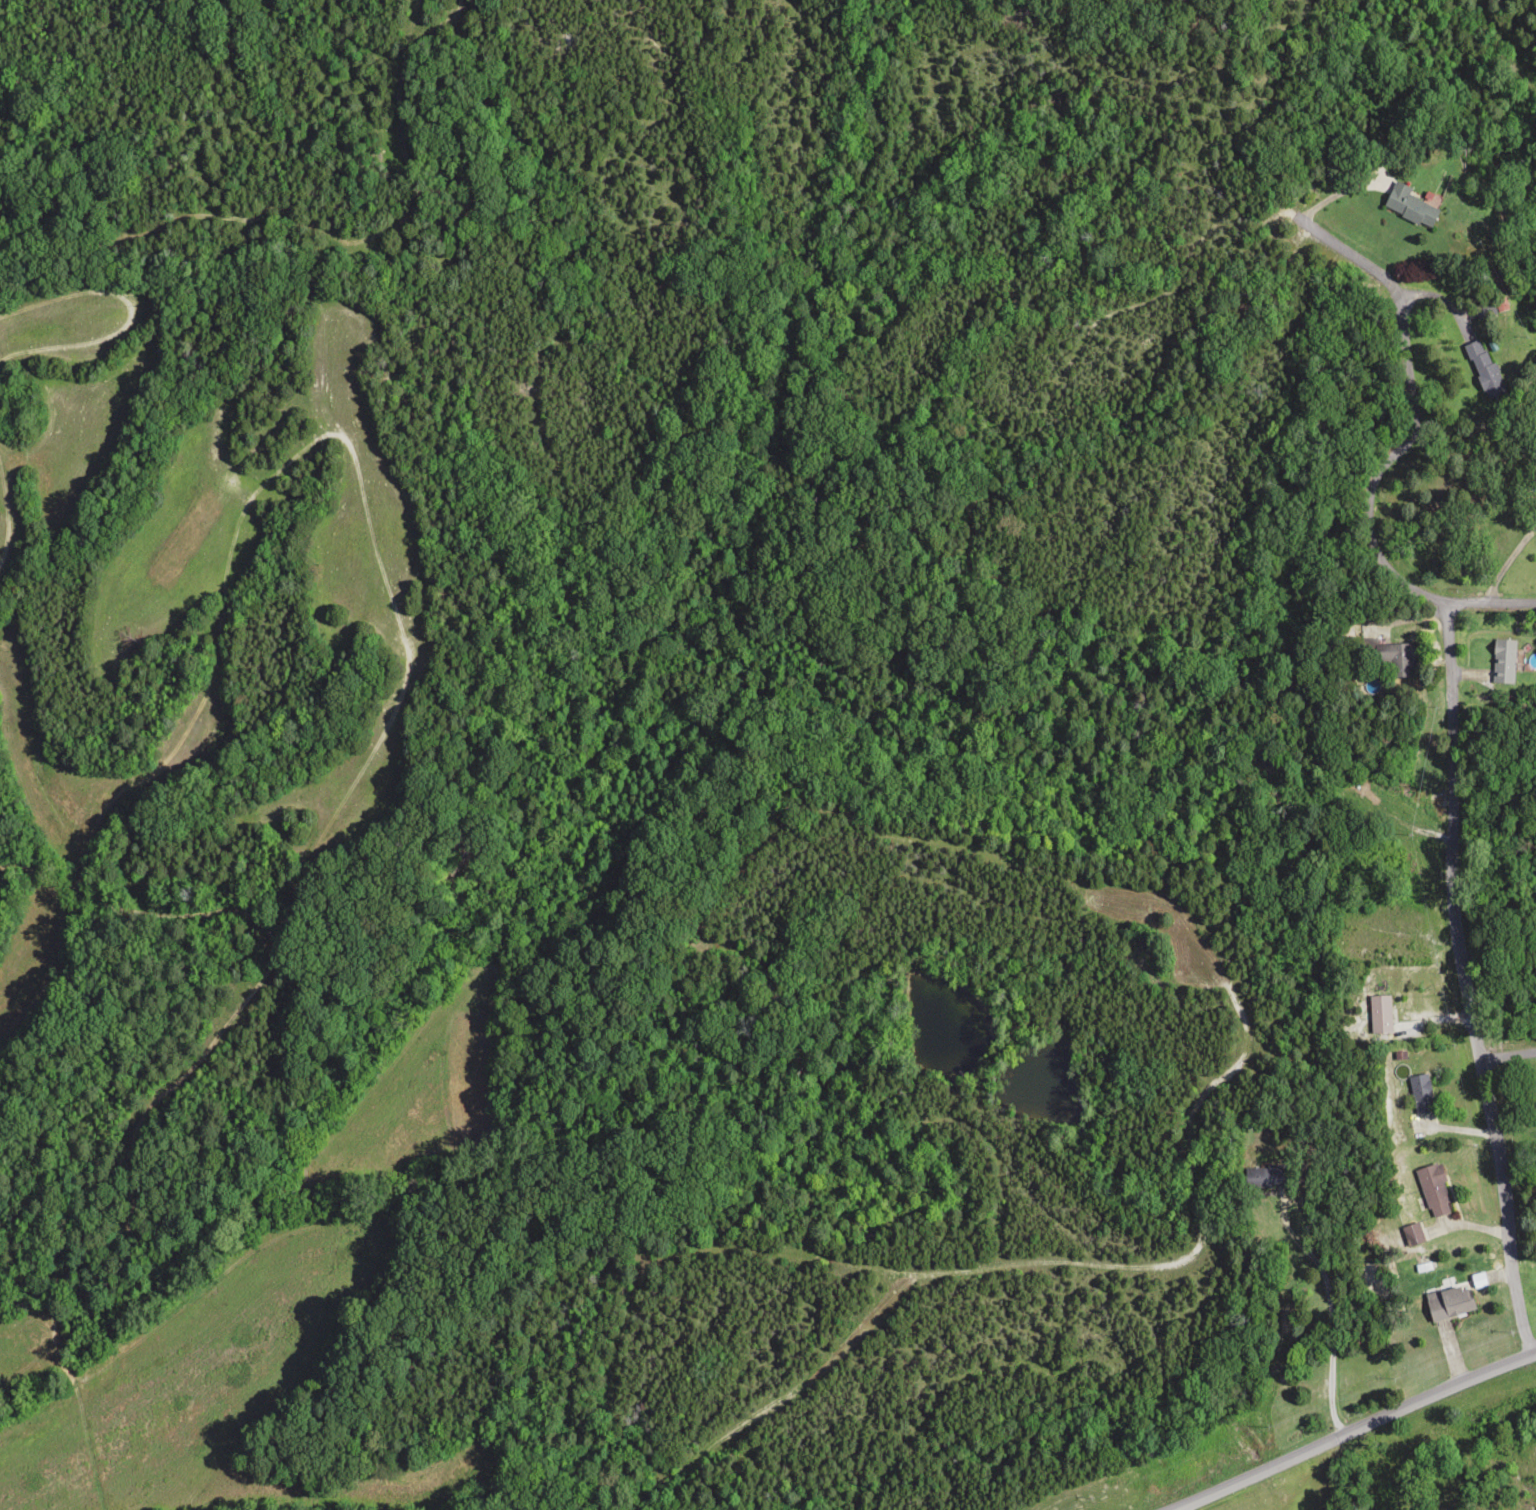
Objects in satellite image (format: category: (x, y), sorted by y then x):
building: (1408, 205)
building: (1481, 367)
road: (1389, 496)
building: (1535, 508)
building: (1394, 658)
building: (1502, 660)
road: (1466, 960)
building: (1378, 1014)
road: (1511, 1053)
building: (1419, 1092)
building: (1262, 1176)
building: (1432, 1189)
building: (1446, 1301)
road: (1359, 1428)

